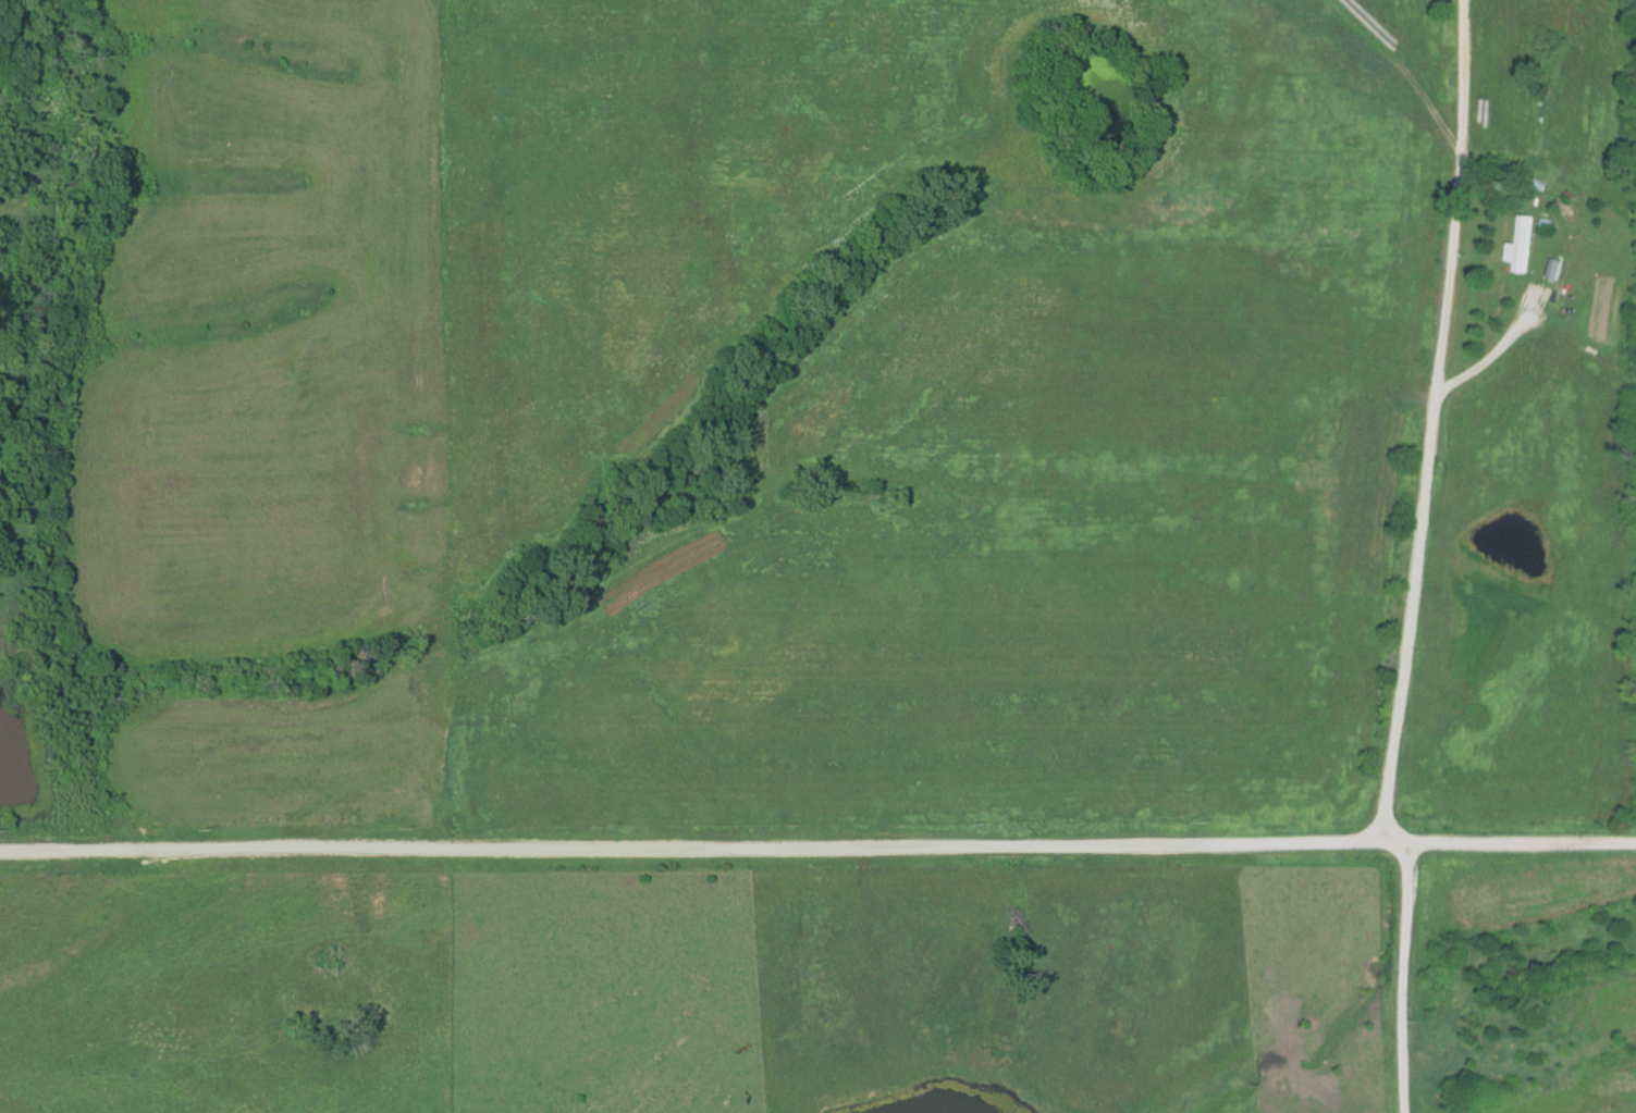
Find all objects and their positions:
building: (1521, 246)
road: (1436, 423)
road: (817, 852)
road: (1406, 978)

